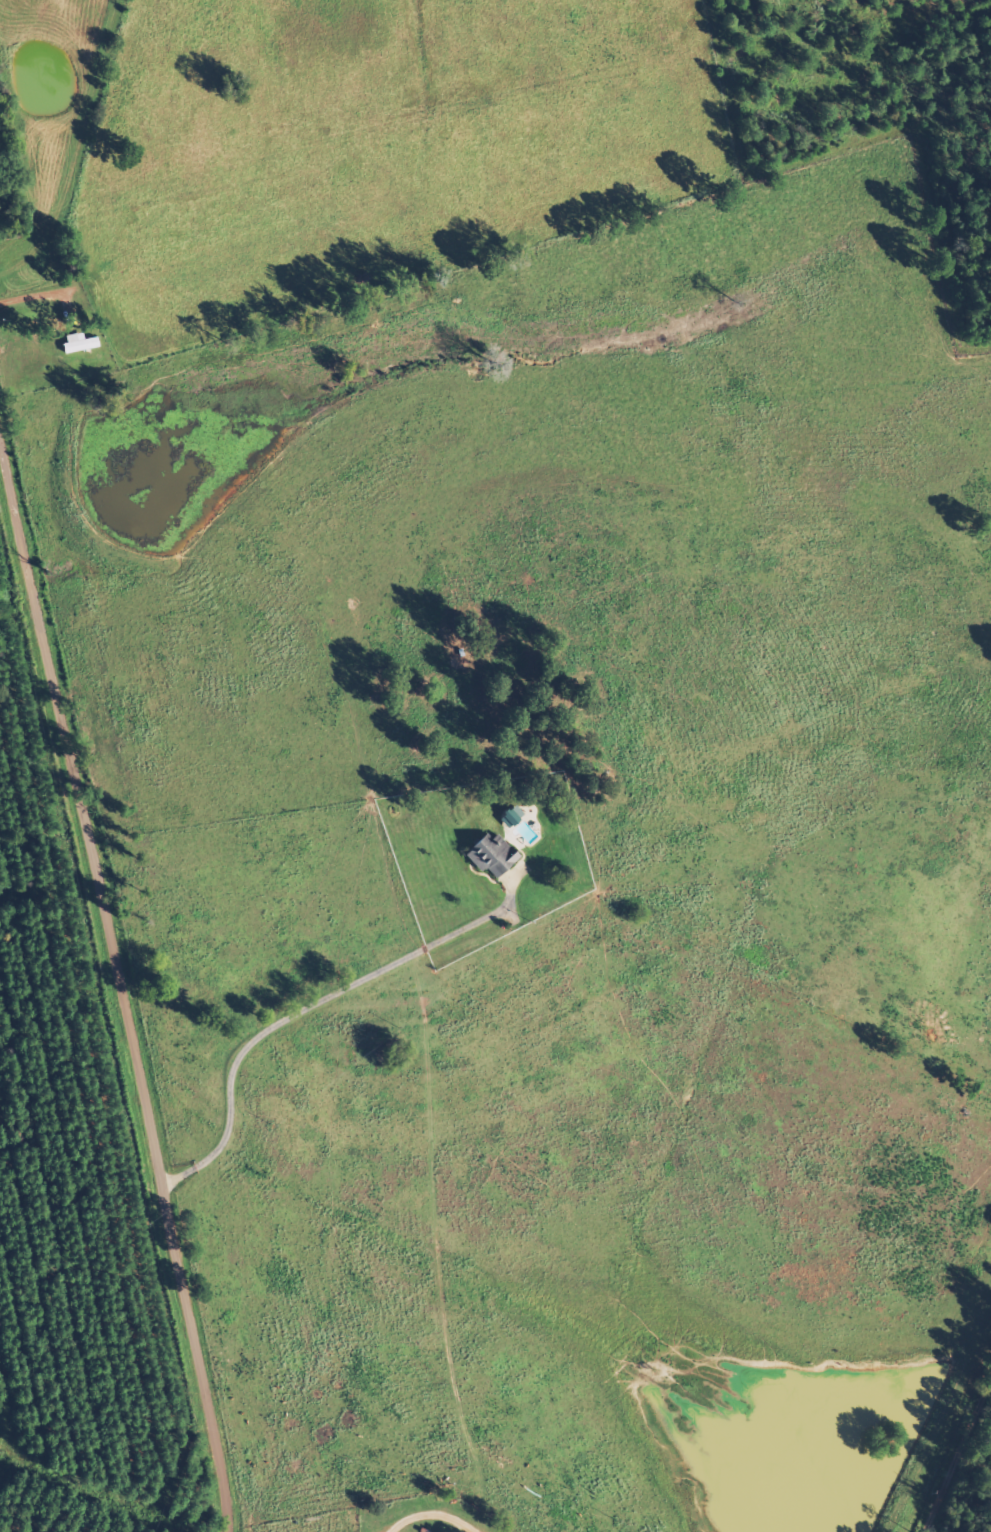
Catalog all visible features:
road: (183, 355)
building: (516, 814)
building: (494, 855)
road: (312, 1005)
road: (123, 1013)
road: (970, 1485)

